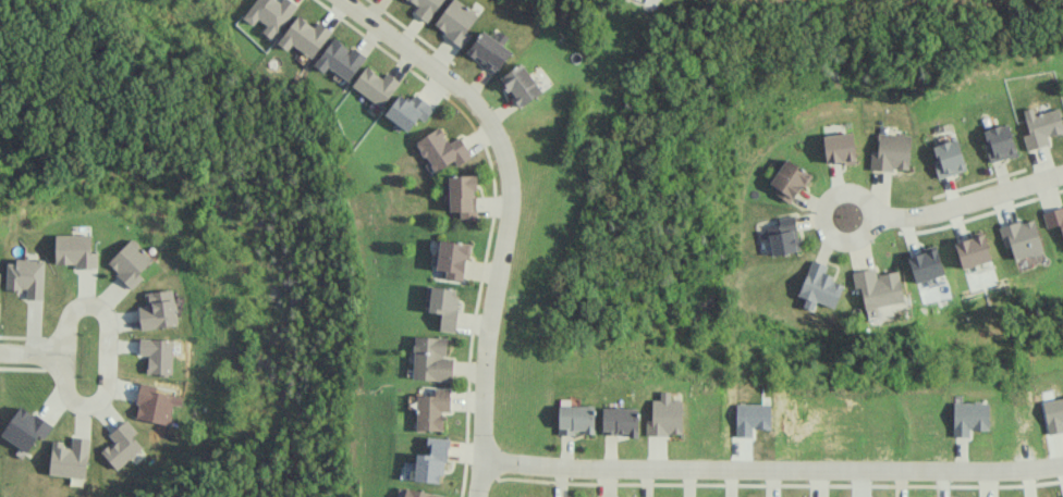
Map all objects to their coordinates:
building: (425, 8)
building: (270, 14)
building: (455, 21)
building: (304, 36)
building: (488, 50)
building: (340, 59)
building: (520, 84)
building: (375, 85)
building: (408, 110)
building: (1041, 126)
building: (999, 141)
building: (839, 147)
building: (442, 149)
building: (891, 151)
building: (948, 158)
building: (787, 179)
building: (462, 195)
road: (969, 201)
road: (870, 206)
road: (508, 212)
building: (1054, 218)
building: (783, 236)
building: (1021, 237)
building: (75, 250)
building: (973, 251)
building: (452, 259)
building: (130, 262)
building: (926, 264)
building: (26, 276)
building: (819, 286)
building: (878, 287)
building: (443, 305)
building: (158, 309)
road: (29, 352)
building: (157, 355)
road: (107, 358)
building: (431, 359)
building: (156, 403)
building: (432, 409)
building: (1053, 414)
building: (664, 415)
building: (969, 417)
building: (575, 419)
building: (620, 421)
building: (25, 427)
building: (122, 444)
building: (70, 457)
building: (431, 461)
road: (772, 468)
building: (416, 493)

